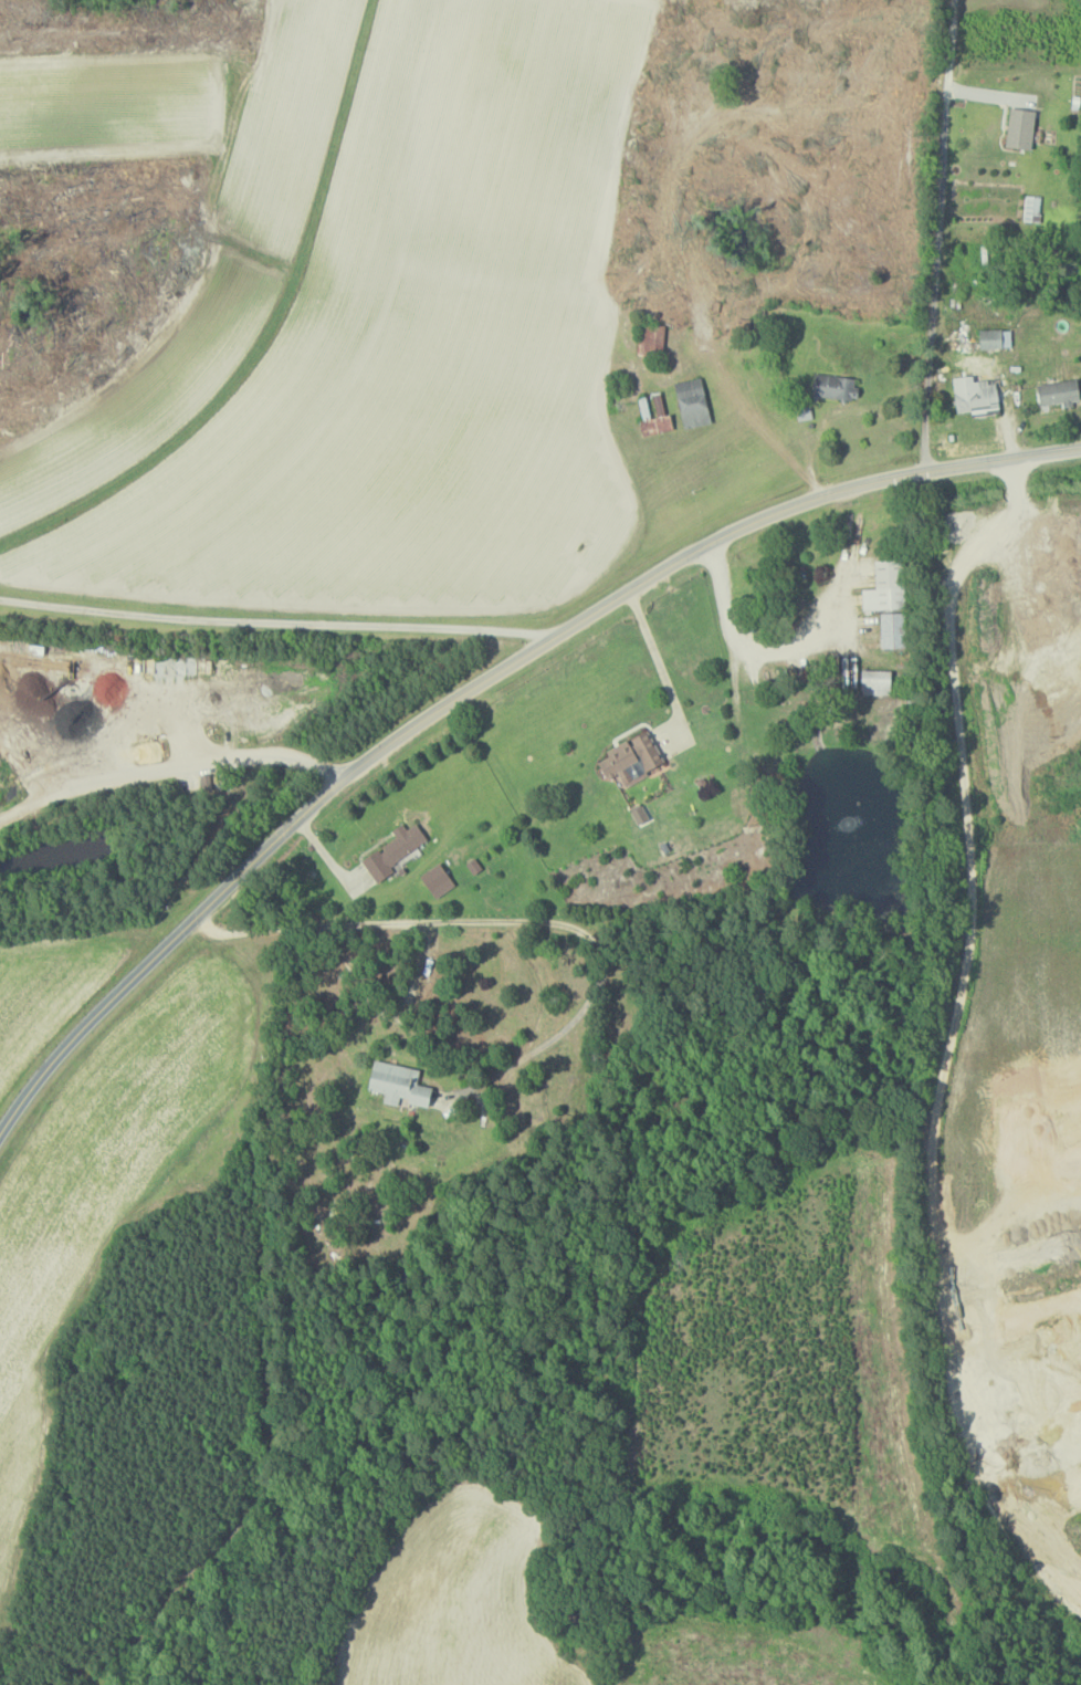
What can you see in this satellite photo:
building: (1019, 127)
building: (1031, 208)
road: (941, 236)
building: (650, 338)
building: (993, 338)
building: (833, 386)
building: (1057, 391)
building: (974, 394)
building: (691, 402)
building: (651, 412)
building: (804, 414)
road: (804, 502)
building: (884, 586)
road: (275, 622)
building: (891, 630)
road: (758, 645)
road: (657, 655)
building: (874, 682)
building: (629, 758)
road: (203, 762)
building: (393, 851)
road: (254, 862)
building: (435, 880)
road: (487, 912)
road: (386, 1013)
building: (396, 1084)

